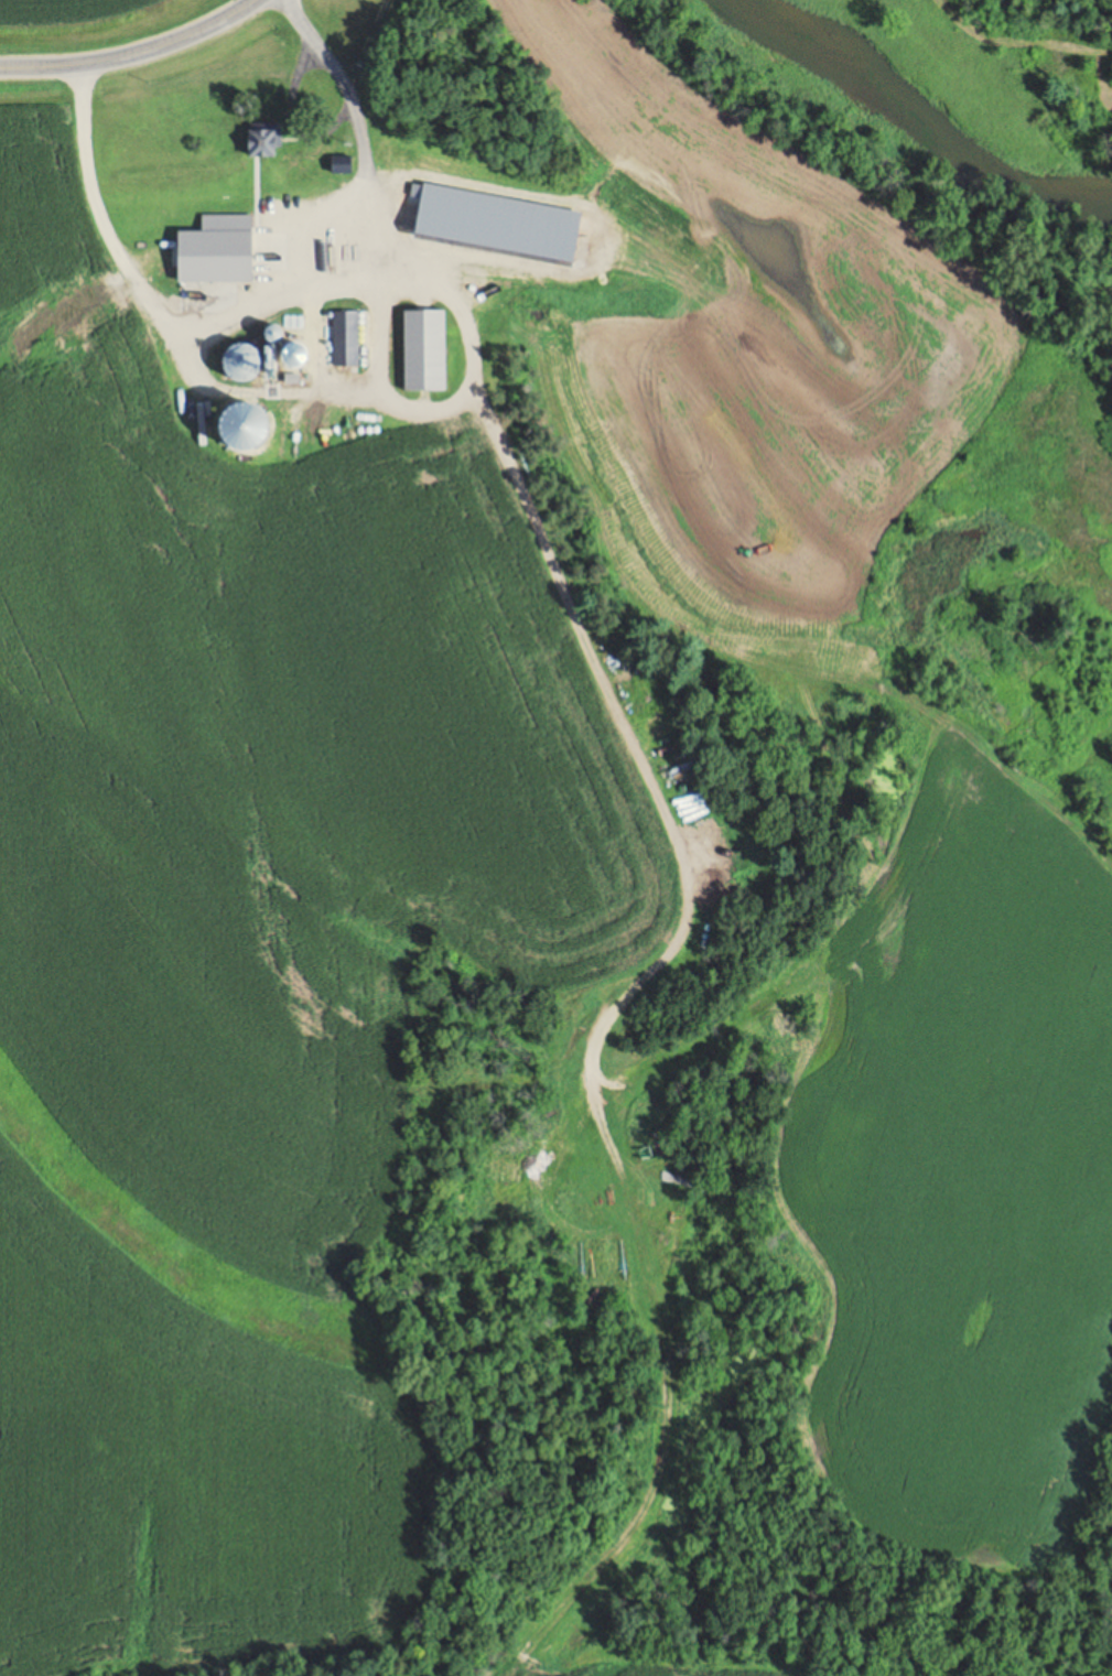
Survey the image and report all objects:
road: (131, 53)
river: (915, 120)
building: (258, 139)
building: (432, 187)
building: (526, 205)
building: (210, 250)
road: (263, 300)
building: (342, 337)
building: (421, 349)
building: (288, 356)
building: (238, 360)

